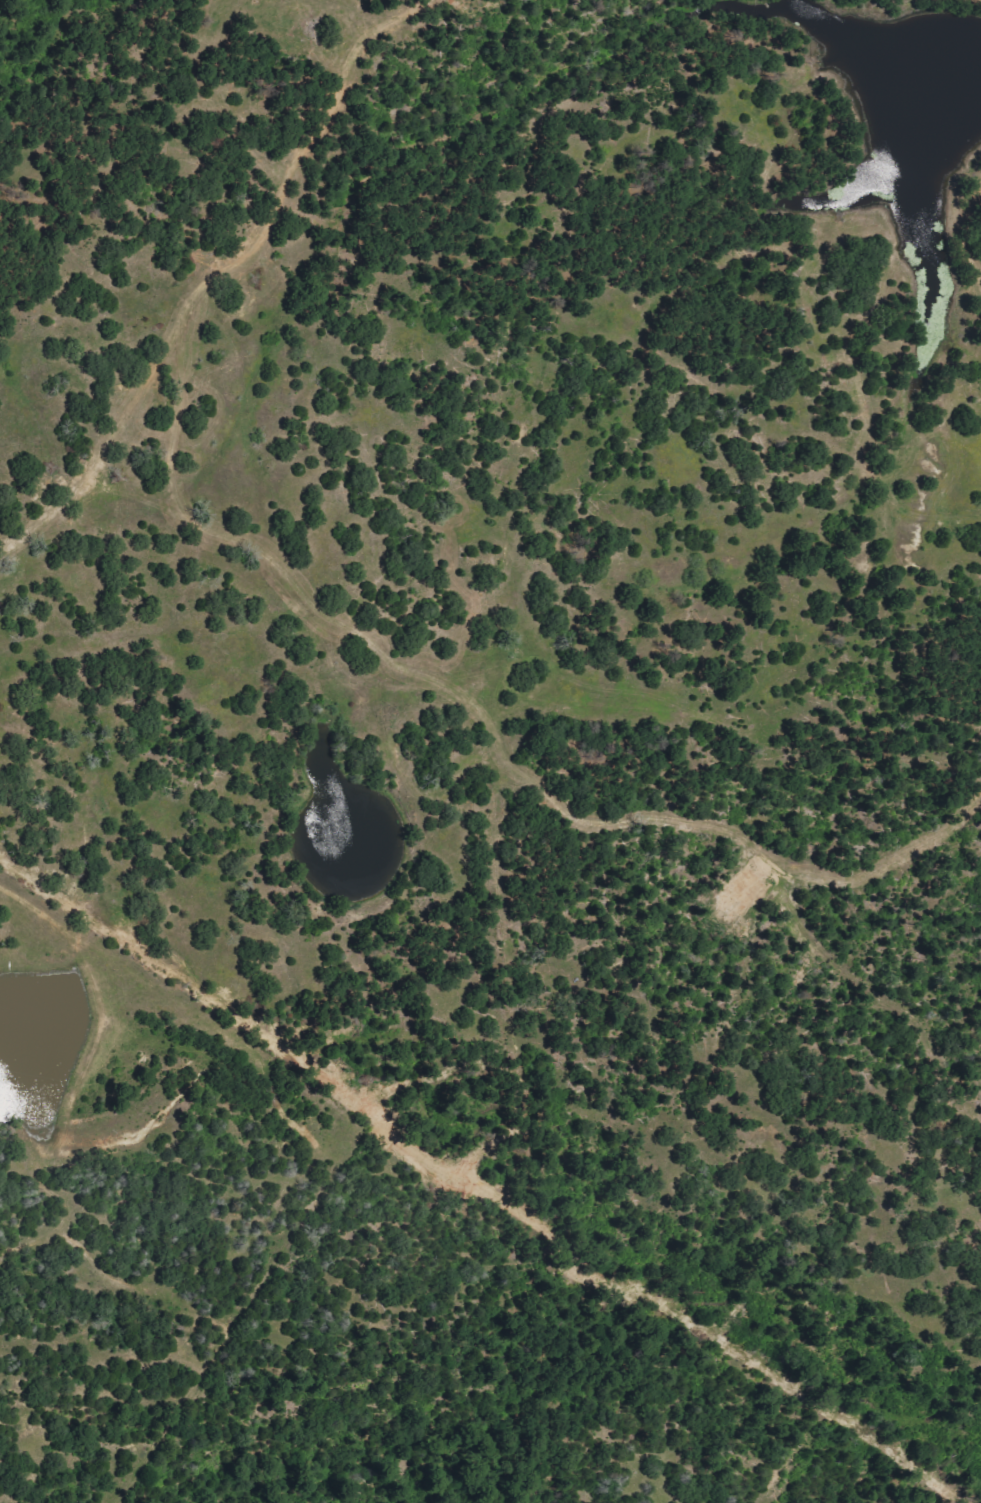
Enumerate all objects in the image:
road: (178, 335)

